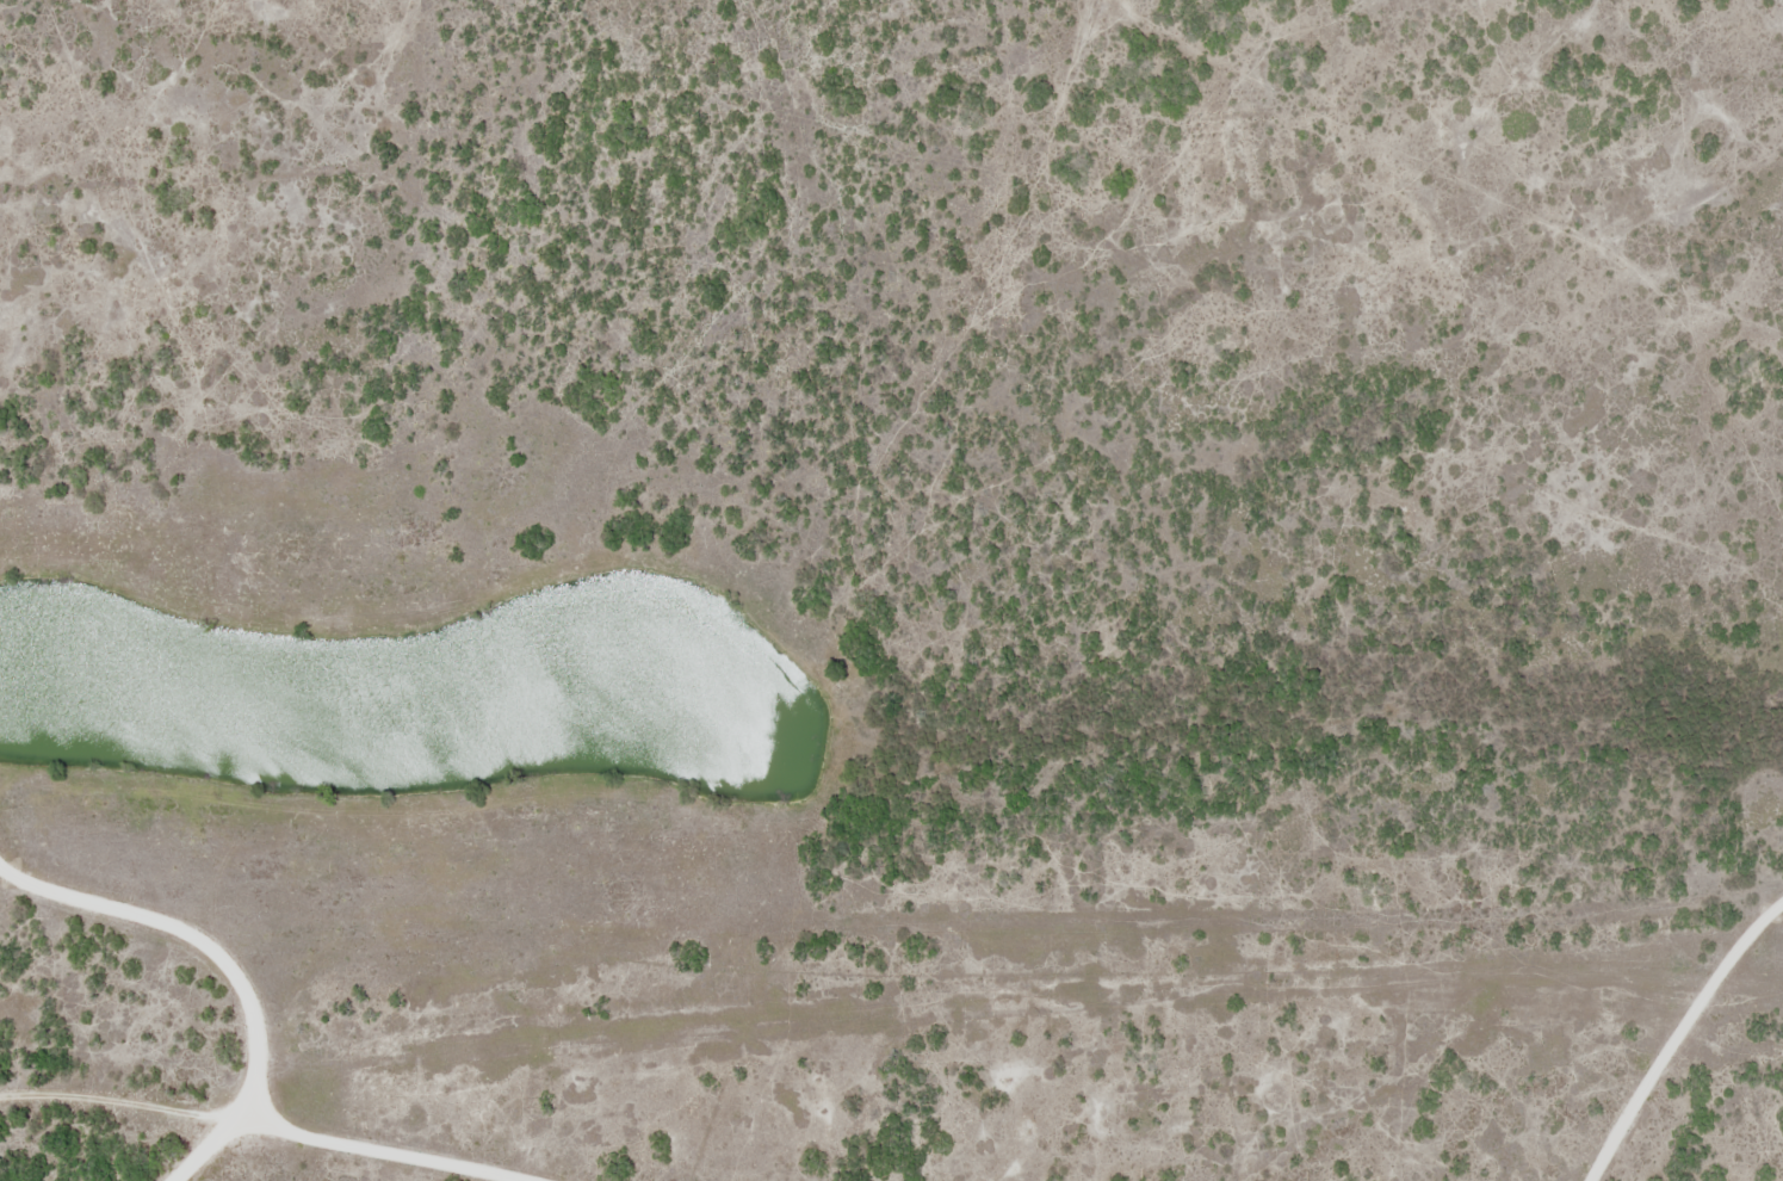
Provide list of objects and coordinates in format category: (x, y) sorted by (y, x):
road: (791, 885)
road: (1277, 940)
road: (153, 1103)
road: (181, 1143)
road: (19, 1145)

